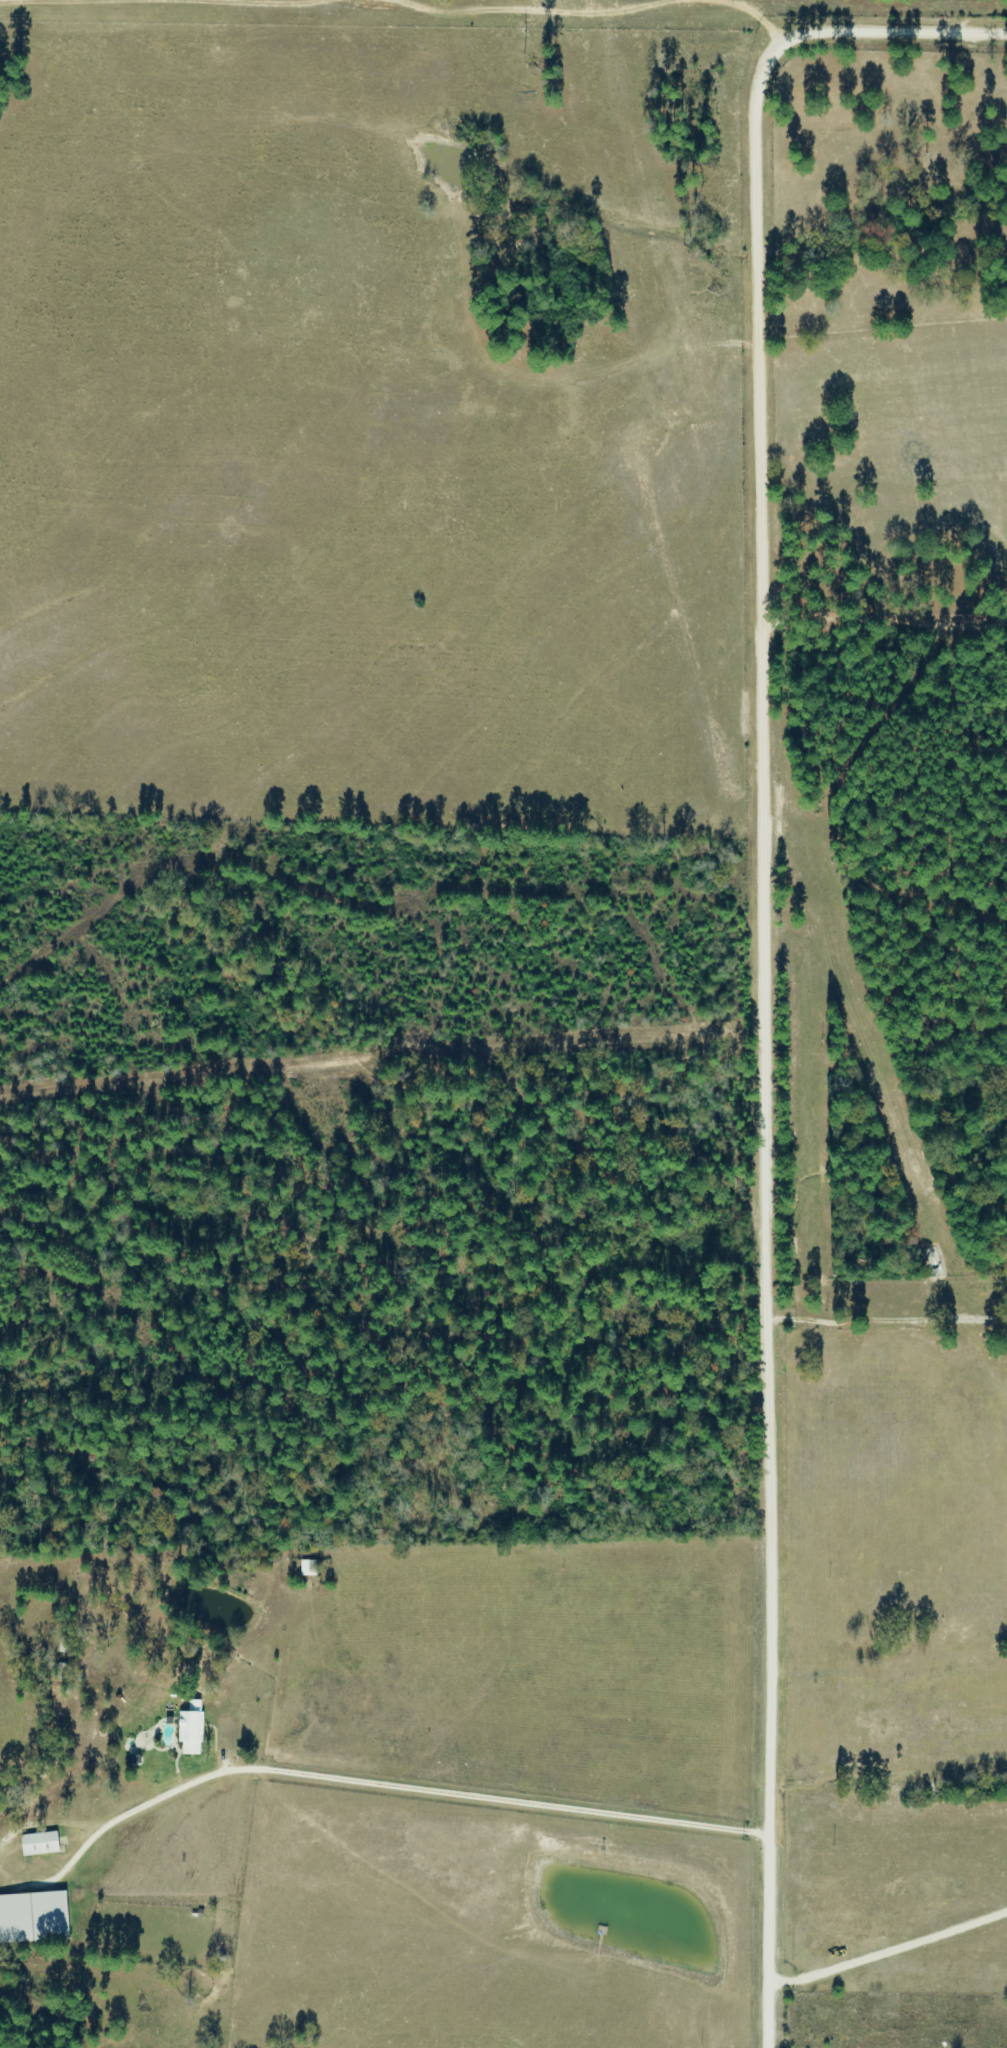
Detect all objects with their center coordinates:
road: (754, 926)
building: (308, 1569)
building: (65, 1645)
building: (913, 1647)
building: (191, 1733)
building: (40, 1845)
building: (34, 1918)

